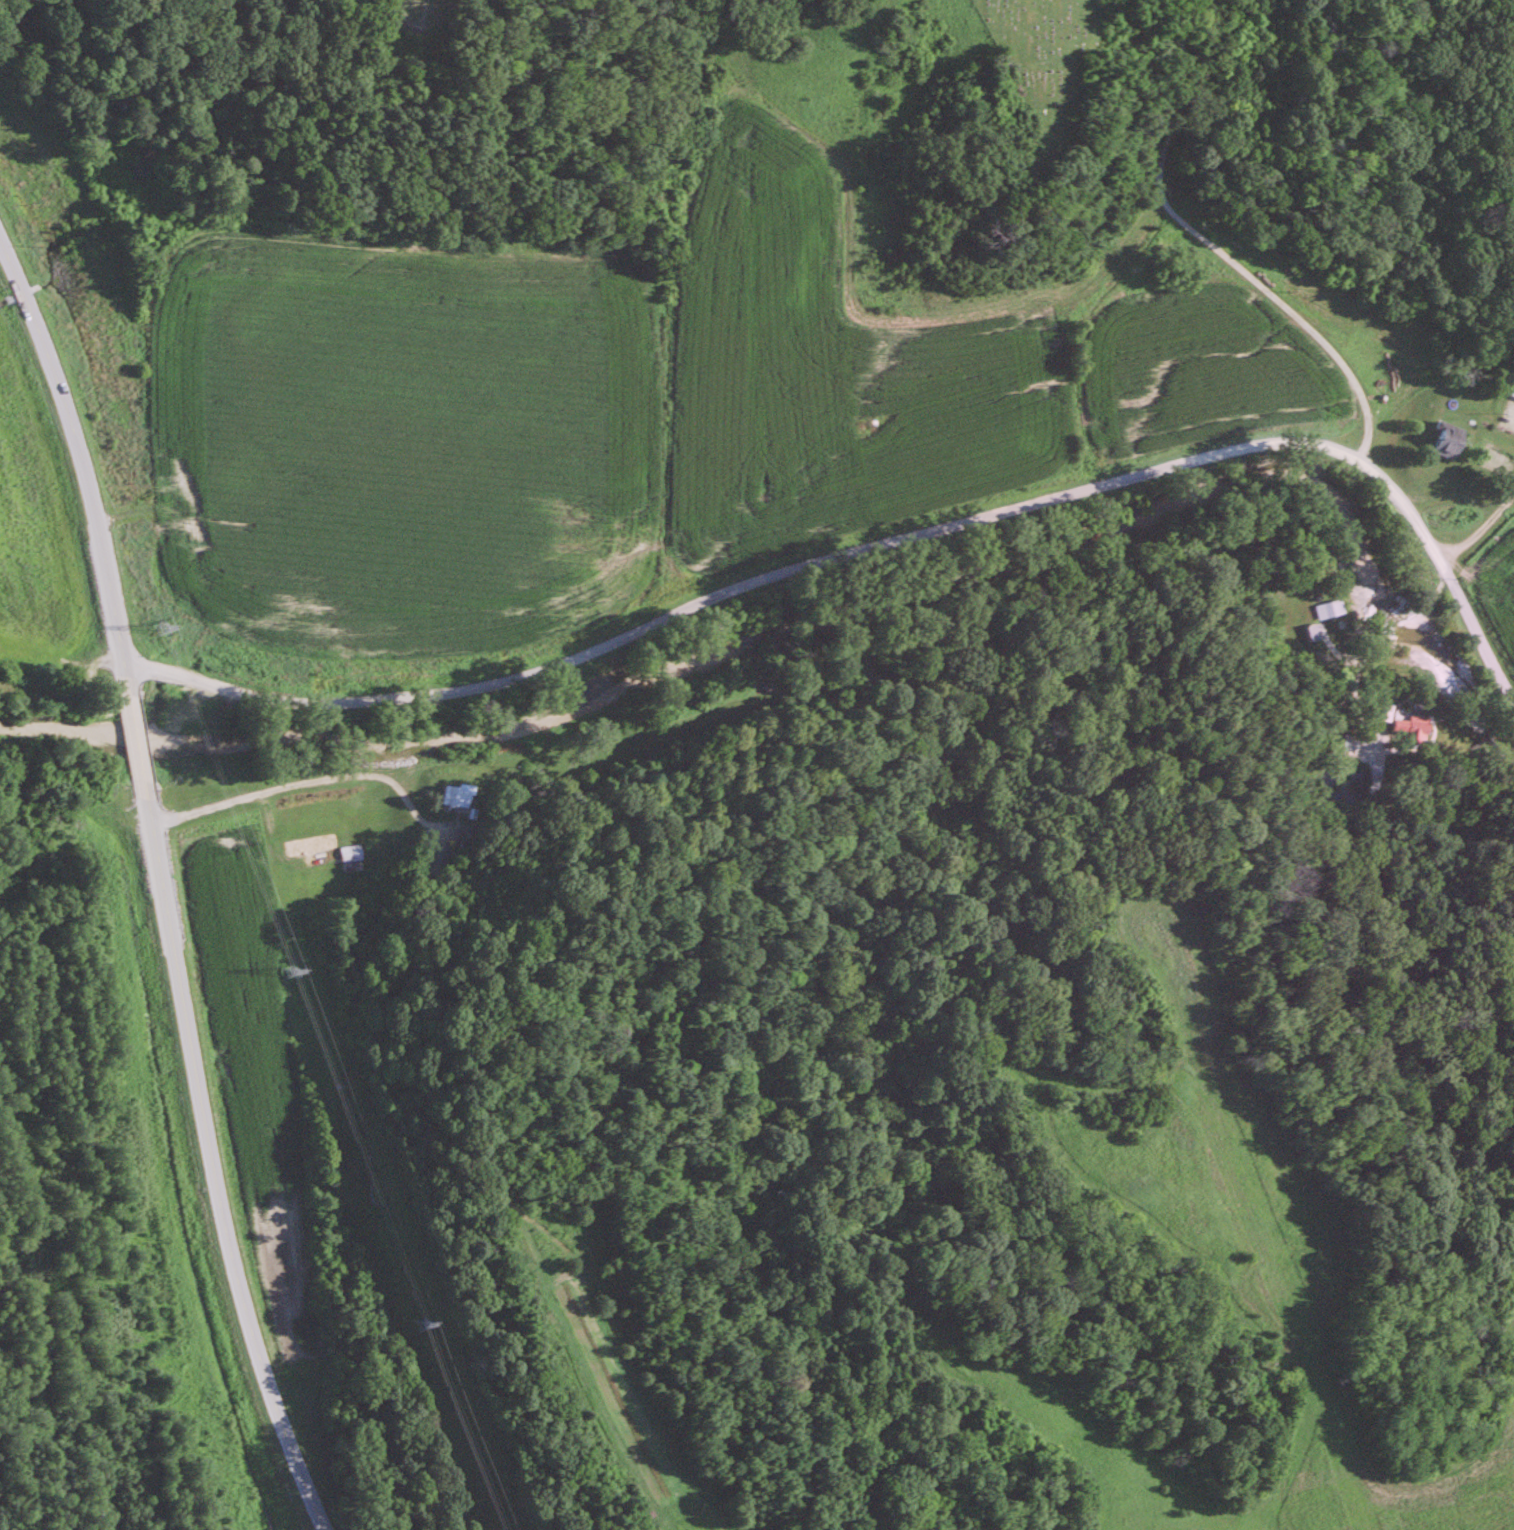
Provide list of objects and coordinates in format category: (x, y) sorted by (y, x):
park: (1056, 65)
road: (1217, 245)
building: (1512, 390)
building: (1450, 439)
road: (1479, 529)
road: (876, 543)
building: (1331, 607)
building: (1412, 726)
building: (458, 793)
building: (336, 854)
road: (158, 888)

